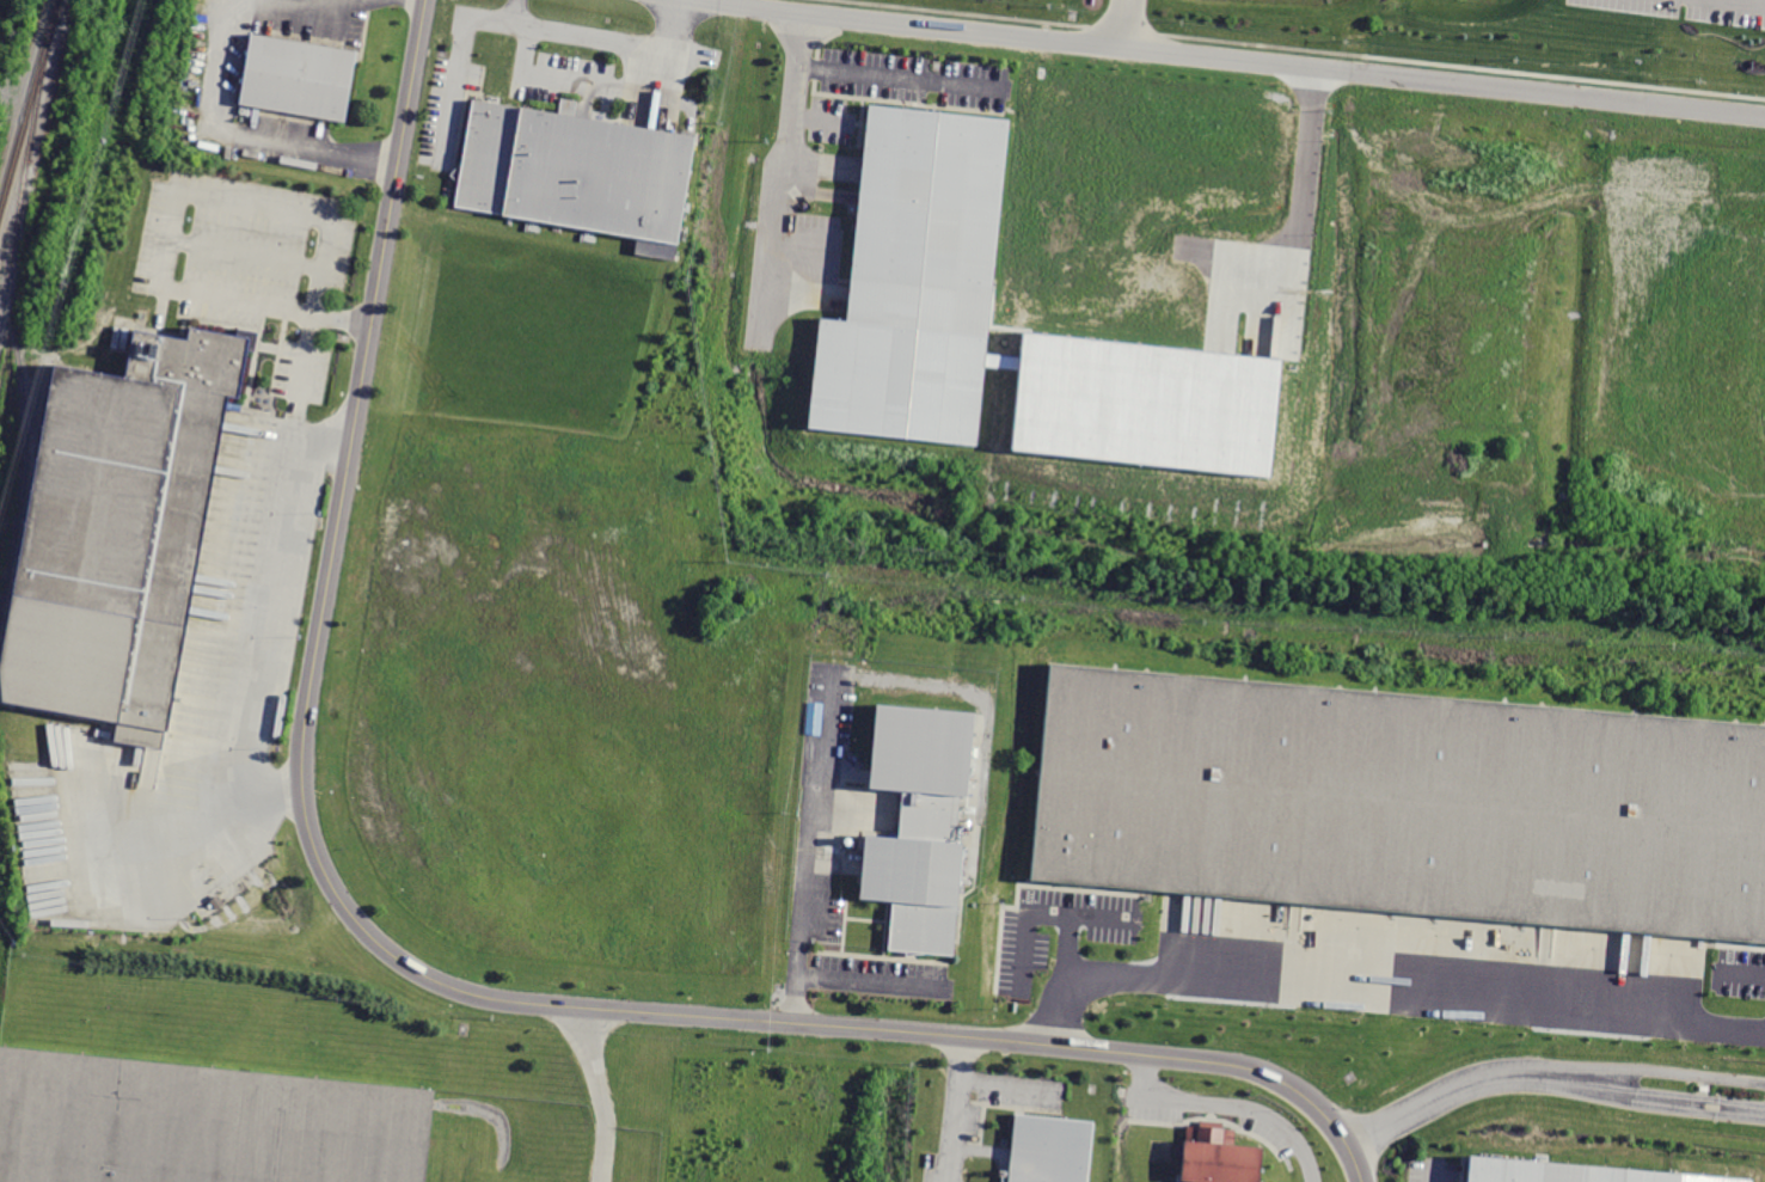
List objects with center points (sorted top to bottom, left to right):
road: (1747, 1)
road: (513, 12)
road: (1127, 25)
road: (531, 27)
road: (1232, 61)
road: (900, 76)
building: (299, 78)
railway: (30, 108)
road: (243, 131)
road: (780, 167)
building: (575, 173)
railway: (23, 189)
road: (1298, 221)
road: (171, 223)
building: (914, 278)
road: (302, 355)
building: (1144, 403)
railway: (25, 425)
building: (119, 529)
road: (253, 613)
building: (1404, 804)
road: (813, 823)
building: (926, 825)
road: (1044, 912)
road: (1101, 915)
road: (410, 968)
road: (844, 978)
road: (1380, 996)
road: (593, 1065)
road: (1548, 1074)
road: (1007, 1084)
road: (1237, 1104)
road: (957, 1111)
building: (200, 1126)
building: (1055, 1150)
road: (603, 1152)
building: (1218, 1156)
road: (1432, 1170)
building: (1573, 1172)

